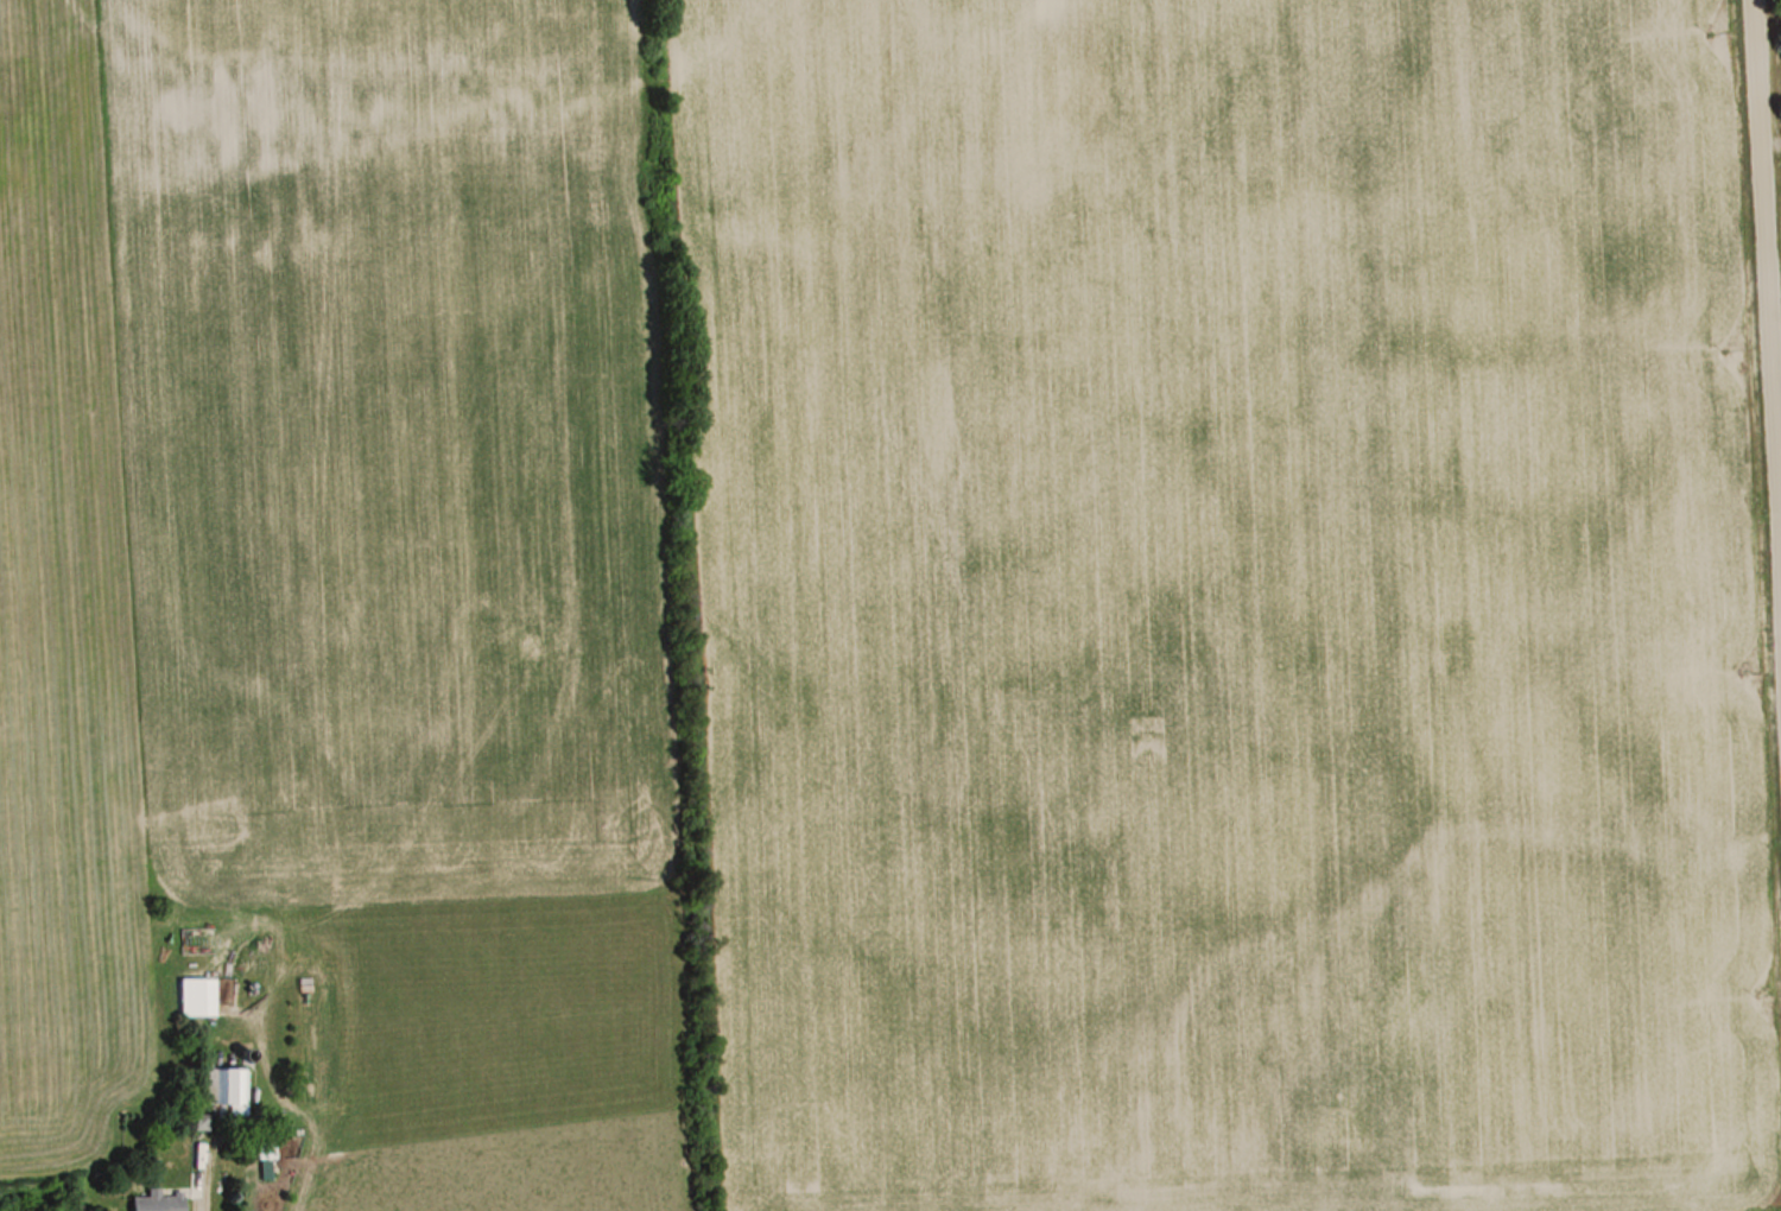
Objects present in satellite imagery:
road: (1762, 405)
building: (198, 996)
building: (226, 1085)
building: (159, 1202)

